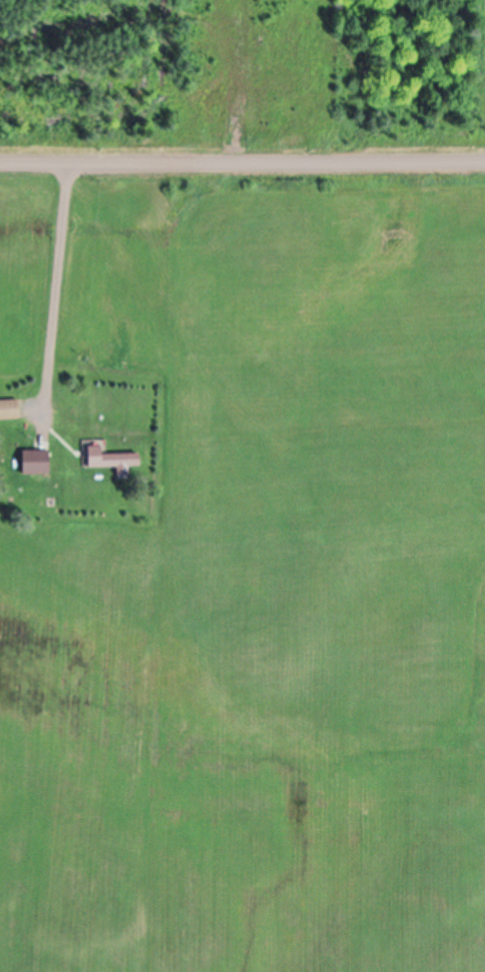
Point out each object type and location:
road: (242, 166)
road: (57, 292)
building: (9, 413)
building: (109, 462)

